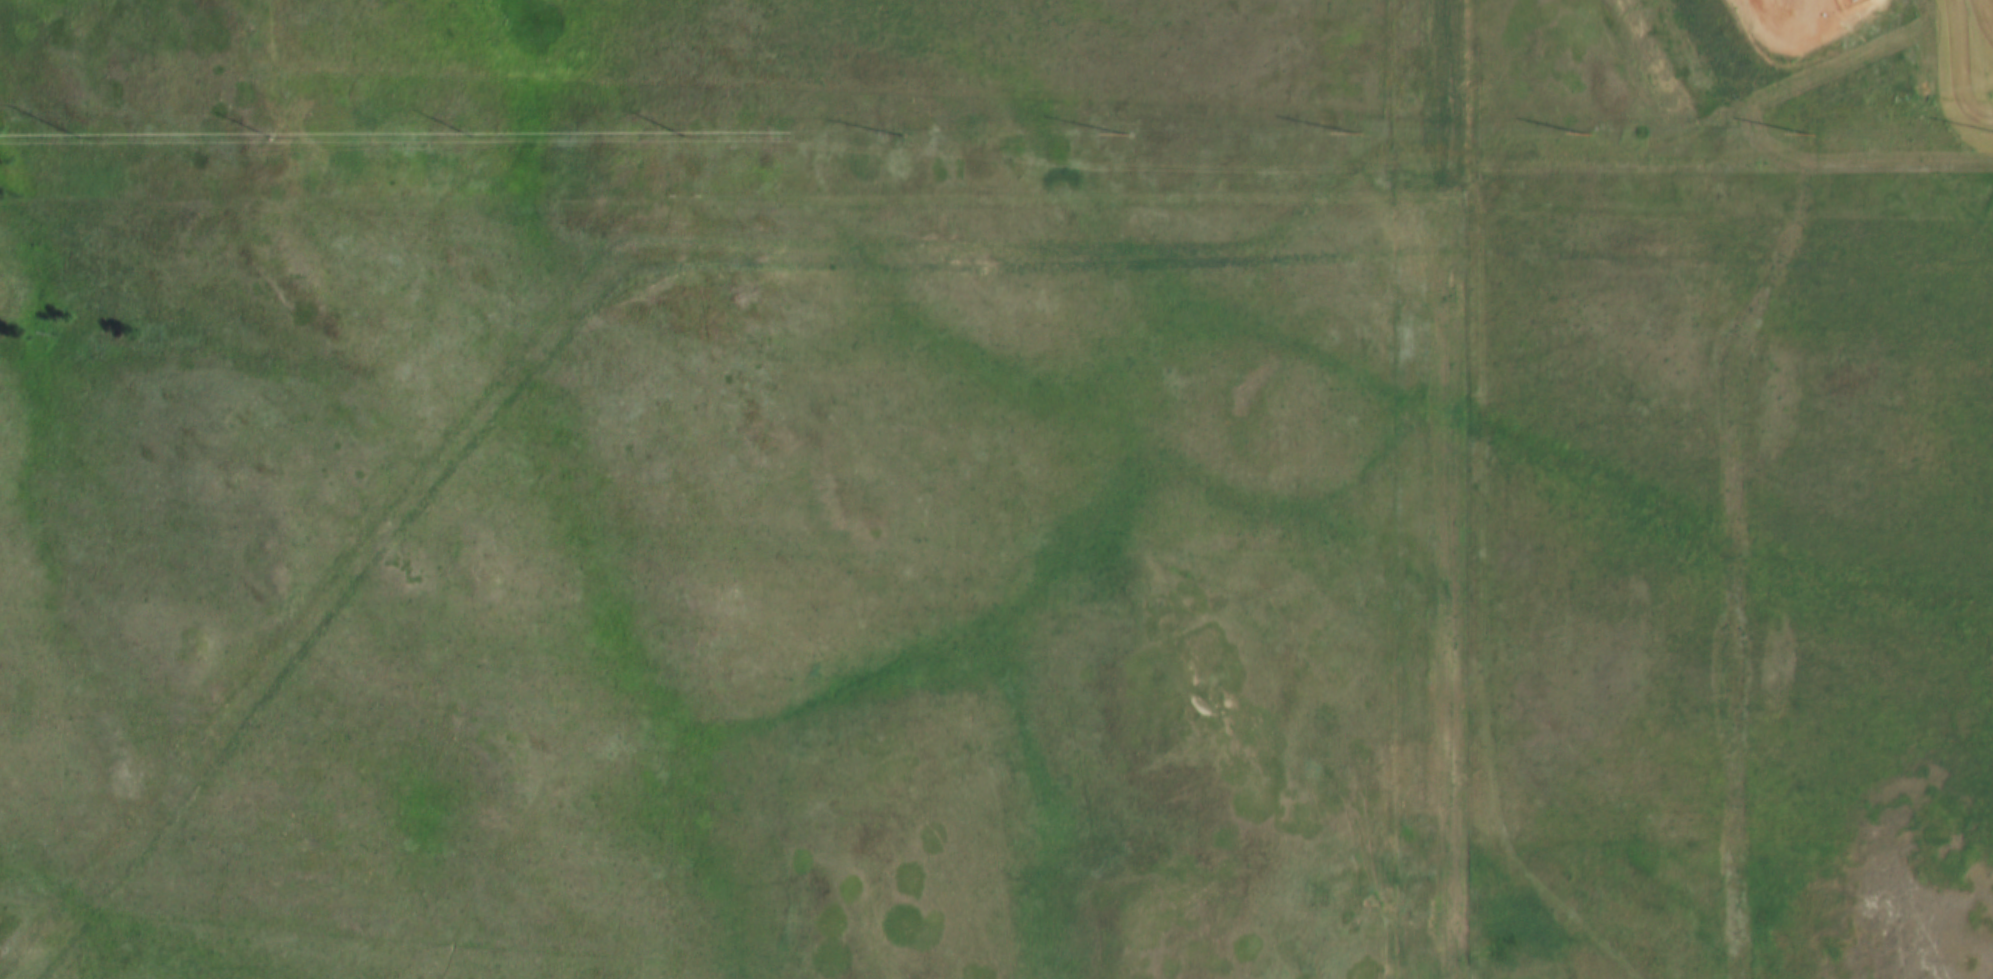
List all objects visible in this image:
road: (1483, 514)

